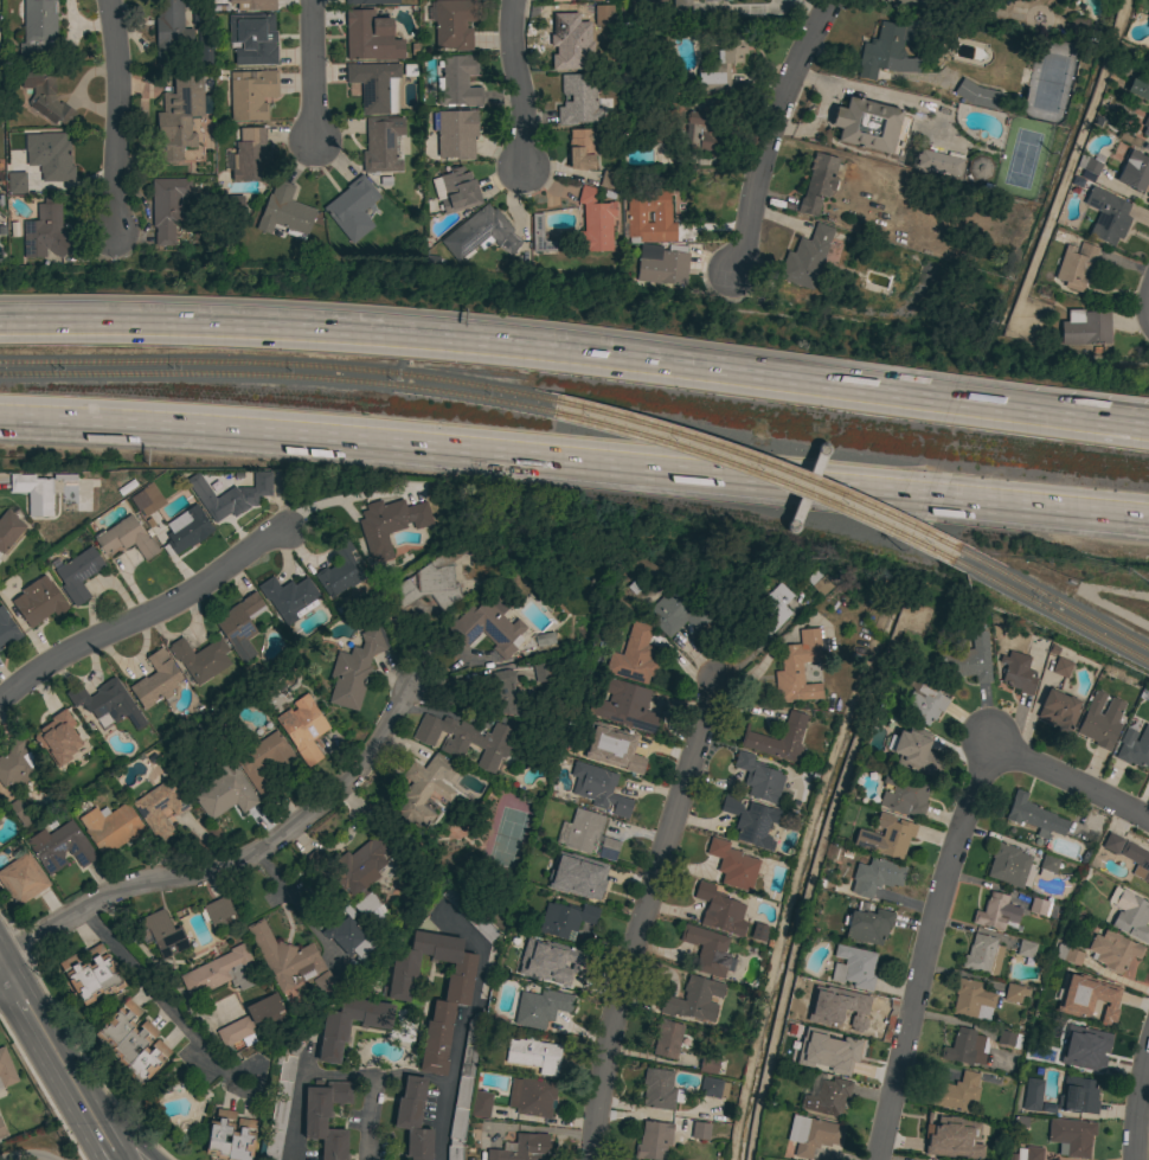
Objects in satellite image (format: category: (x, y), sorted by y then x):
building: (559, 0)
building: (713, 0)
building: (368, 1)
building: (253, 5)
building: (681, 8)
building: (604, 14)
building: (198, 15)
building: (452, 24)
building: (38, 30)
building: (169, 32)
building: (370, 37)
building: (252, 39)
building: (565, 39)
building: (204, 49)
building: (891, 51)
building: (721, 63)
road: (312, 72)
building: (457, 82)
road: (519, 84)
building: (375, 85)
building: (1138, 86)
building: (251, 94)
building: (44, 95)
building: (976, 95)
building: (578, 100)
road: (114, 115)
building: (180, 115)
road: (1085, 120)
building: (866, 124)
building: (1145, 126)
building: (704, 132)
road: (770, 132)
building: (455, 134)
building: (660, 136)
building: (380, 145)
building: (1145, 147)
building: (580, 149)
building: (50, 156)
building: (250, 156)
building: (939, 161)
building: (1087, 167)
building: (978, 168)
building: (1134, 171)
building: (609, 180)
building: (15, 182)
building: (819, 182)
building: (458, 191)
building: (229, 204)
building: (167, 207)
building: (352, 209)
building: (284, 212)
building: (1106, 214)
building: (634, 217)
building: (595, 222)
building: (45, 233)
building: (480, 233)
building: (539, 235)
building: (805, 257)
building: (1074, 265)
building: (665, 267)
road: (1144, 303)
building: (1085, 327)
road: (448, 338)
railway: (278, 365)
railway: (277, 377)
road: (1021, 408)
road: (1020, 416)
road: (574, 460)
railway: (759, 462)
railway: (756, 476)
building: (33, 493)
building: (229, 494)
building: (147, 500)
building: (389, 525)
building: (8, 528)
building: (185, 530)
building: (127, 538)
building: (339, 570)
building: (78, 573)
building: (819, 582)
building: (432, 584)
railway: (1052, 597)
building: (288, 598)
building: (38, 601)
railway: (1051, 610)
building: (674, 613)
road: (143, 615)
building: (763, 615)
building: (487, 624)
building: (240, 627)
building: (6, 629)
building: (544, 639)
building: (633, 655)
building: (199, 659)
building: (967, 660)
building: (355, 667)
building: (1060, 667)
building: (797, 668)
building: (543, 672)
building: (1016, 672)
building: (155, 680)
building: (489, 690)
building: (923, 699)
building: (107, 703)
building: (624, 705)
building: (1058, 710)
building: (1099, 720)
building: (303, 729)
building: (57, 737)
building: (778, 738)
building: (464, 739)
building: (1134, 748)
building: (620, 752)
building: (916, 752)
building: (264, 761)
building: (15, 763)
building: (758, 777)
road: (1068, 782)
building: (598, 788)
building: (222, 789)
building: (423, 789)
building: (903, 794)
building: (161, 806)
building: (21, 812)
building: (1033, 816)
building: (750, 821)
building: (0, 825)
building: (110, 827)
building: (589, 834)
building: (886, 837)
building: (1111, 844)
building: (59, 847)
road: (236, 857)
building: (365, 860)
building: (1136, 860)
building: (732, 865)
building: (1008, 865)
building: (1047, 865)
building: (874, 877)
building: (21, 878)
building: (580, 883)
road: (293, 906)
building: (1039, 906)
building: (719, 910)
building: (217, 912)
building: (995, 912)
building: (469, 914)
building: (1129, 914)
road: (642, 917)
building: (565, 919)
building: (867, 925)
building: (354, 928)
building: (758, 931)
building: (159, 933)
building: (518, 937)
road: (923, 948)
building: (706, 949)
building: (1025, 949)
building: (1112, 950)
building: (282, 955)
building: (982, 955)
building: (1067, 955)
road: (5, 966)
building: (853, 967)
building: (563, 968)
building: (222, 972)
building: (90, 974)
building: (323, 982)
building: (1014, 993)
building: (1086, 996)
road: (156, 999)
building: (693, 999)
building: (971, 1000)
building: (449, 1004)
building: (540, 1007)
building: (263, 1008)
building: (848, 1011)
road: (18, 1024)
road: (52, 1032)
building: (235, 1032)
building: (333, 1036)
building: (666, 1038)
building: (1008, 1038)
building: (131, 1043)
building: (964, 1047)
building: (1086, 1049)
building: (840, 1053)
building: (533, 1055)
road: (454, 1062)
building: (707, 1063)
building: (6, 1070)
road: (301, 1077)
building: (463, 1088)
building: (712, 1088)
building: (659, 1090)
building: (955, 1092)
building: (1031, 1095)
building: (1078, 1096)
building: (531, 1097)
building: (827, 1097)
road: (1134, 1097)
building: (280, 1102)
building: (480, 1104)
road: (66, 1108)
building: (326, 1117)
building: (412, 1119)
road: (442, 1120)
building: (699, 1130)
building: (1, 1132)
building: (943, 1132)
building: (811, 1135)
building: (229, 1136)
building: (1070, 1136)
road: (133, 1139)
building: (653, 1140)
road: (116, 1141)
building: (522, 1148)
road: (24, 1151)
building: (1028, 1153)

